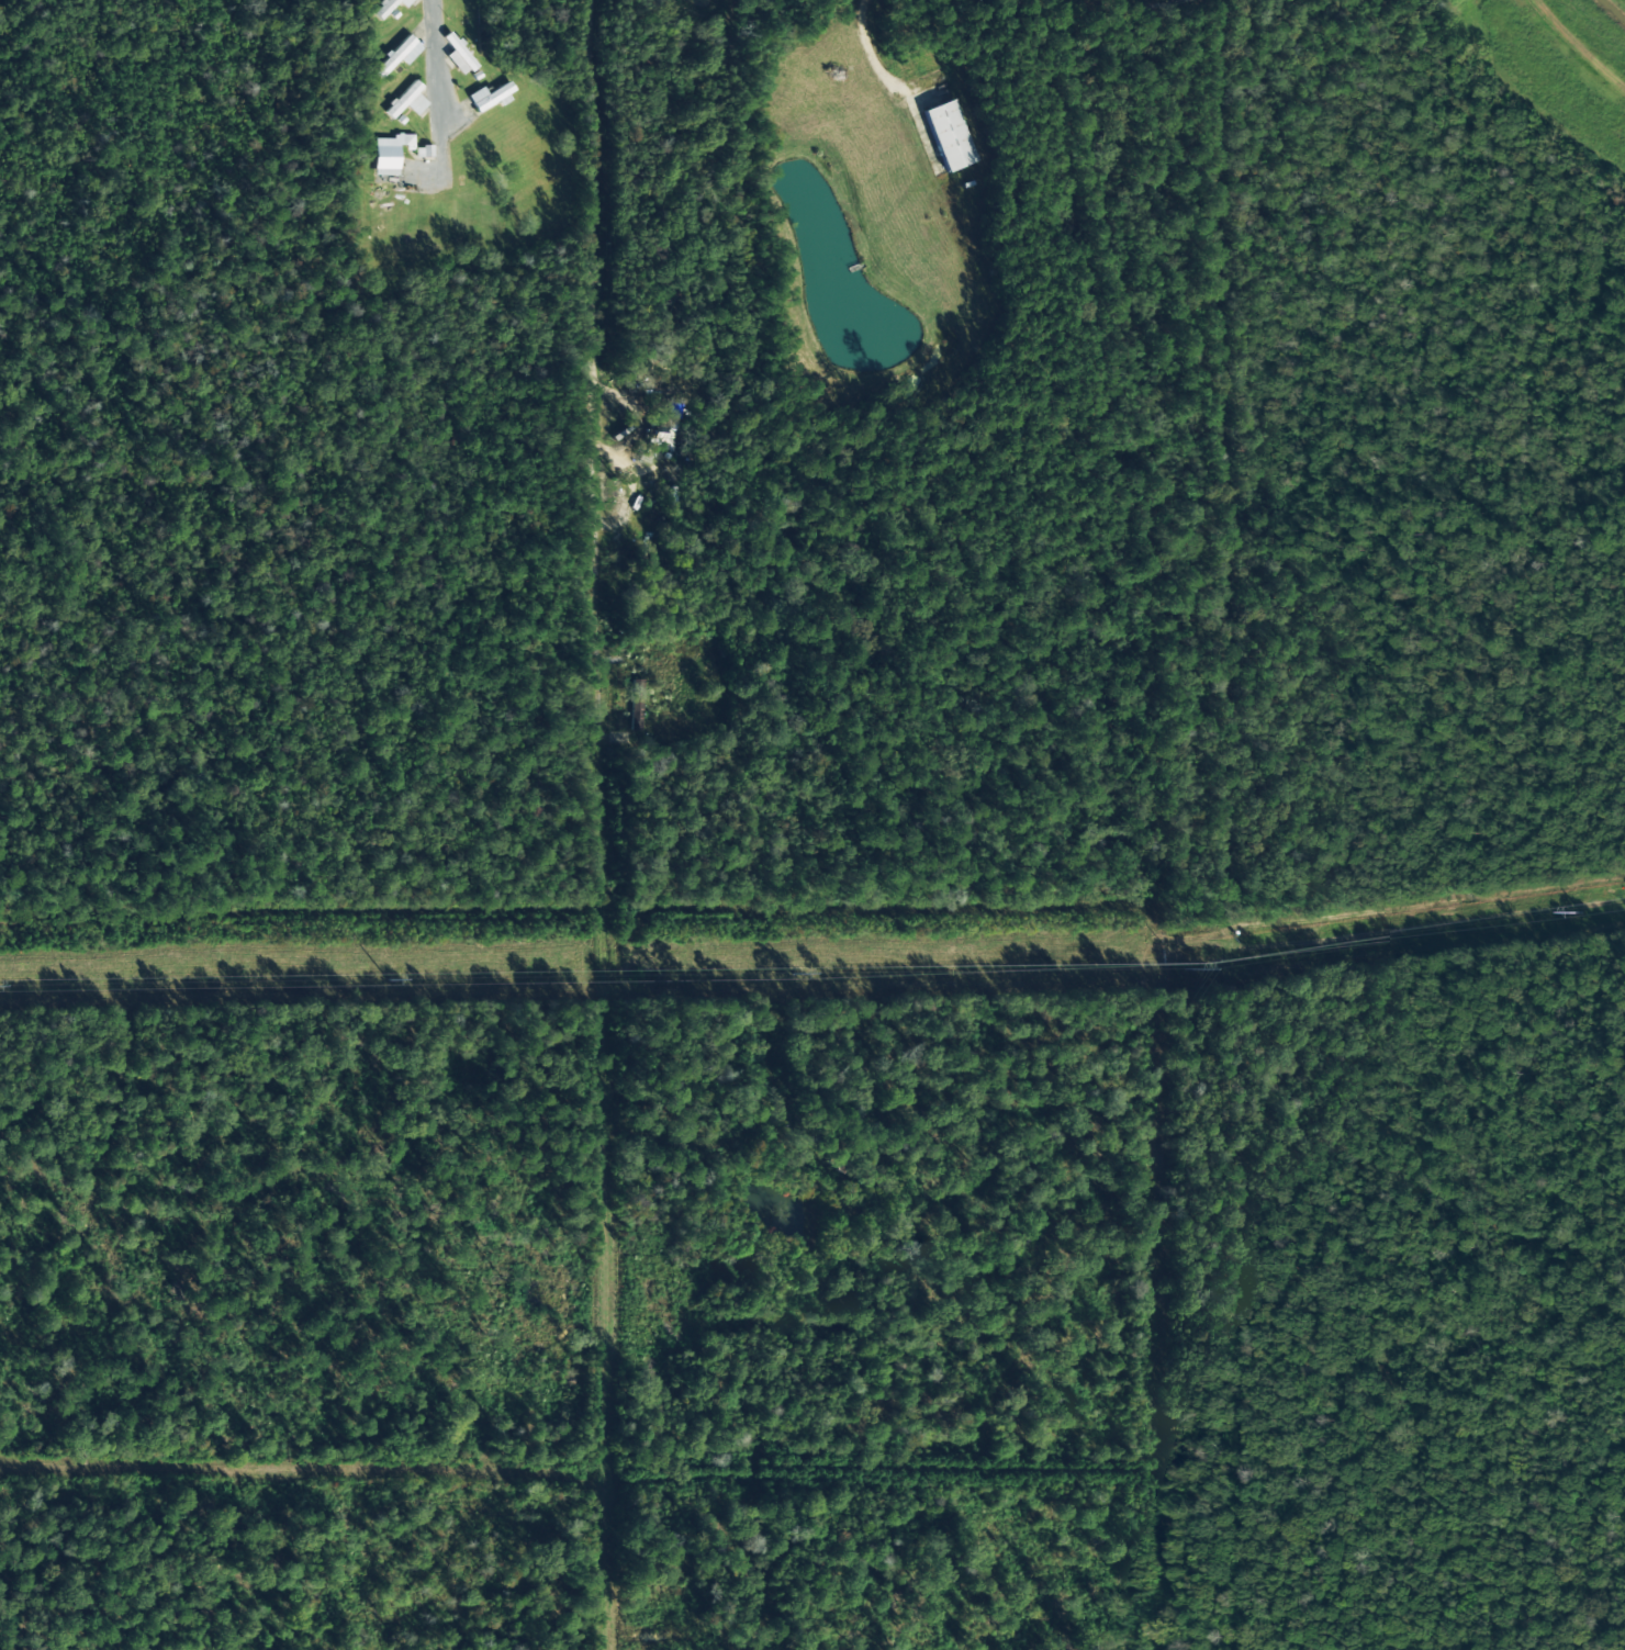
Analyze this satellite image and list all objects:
building: (389, 7)
building: (399, 55)
building: (458, 56)
road: (434, 63)
building: (490, 97)
building: (407, 101)
building: (949, 136)
building: (424, 151)
building: (390, 154)
building: (675, 411)
building: (663, 440)
road: (595, 564)
building: (635, 697)

